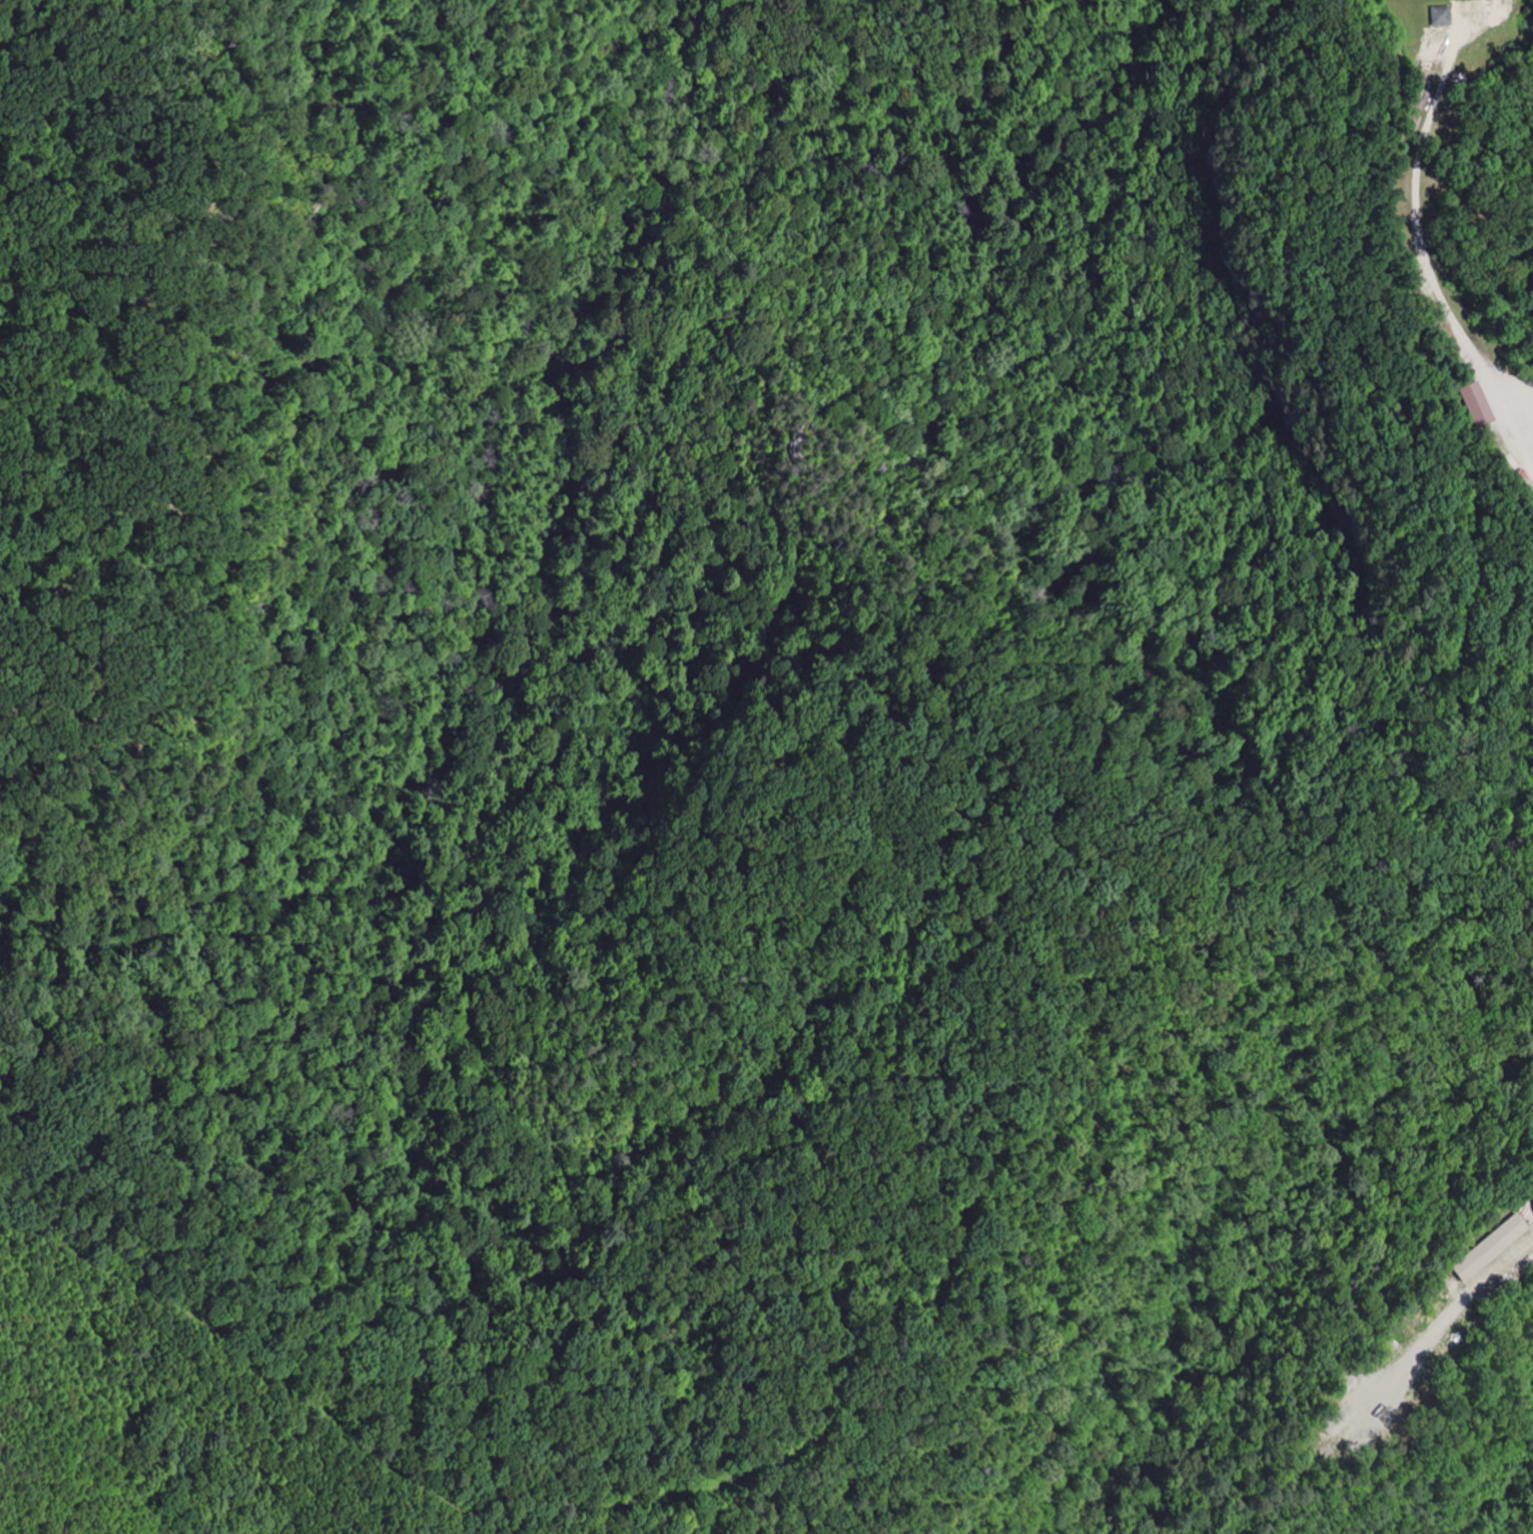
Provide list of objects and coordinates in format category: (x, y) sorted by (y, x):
road: (1482, 13)
building: (1440, 16)
road: (1419, 245)
building: (1475, 405)
road: (97, 481)
road: (365, 557)
road: (973, 1185)
building: (1489, 1249)

